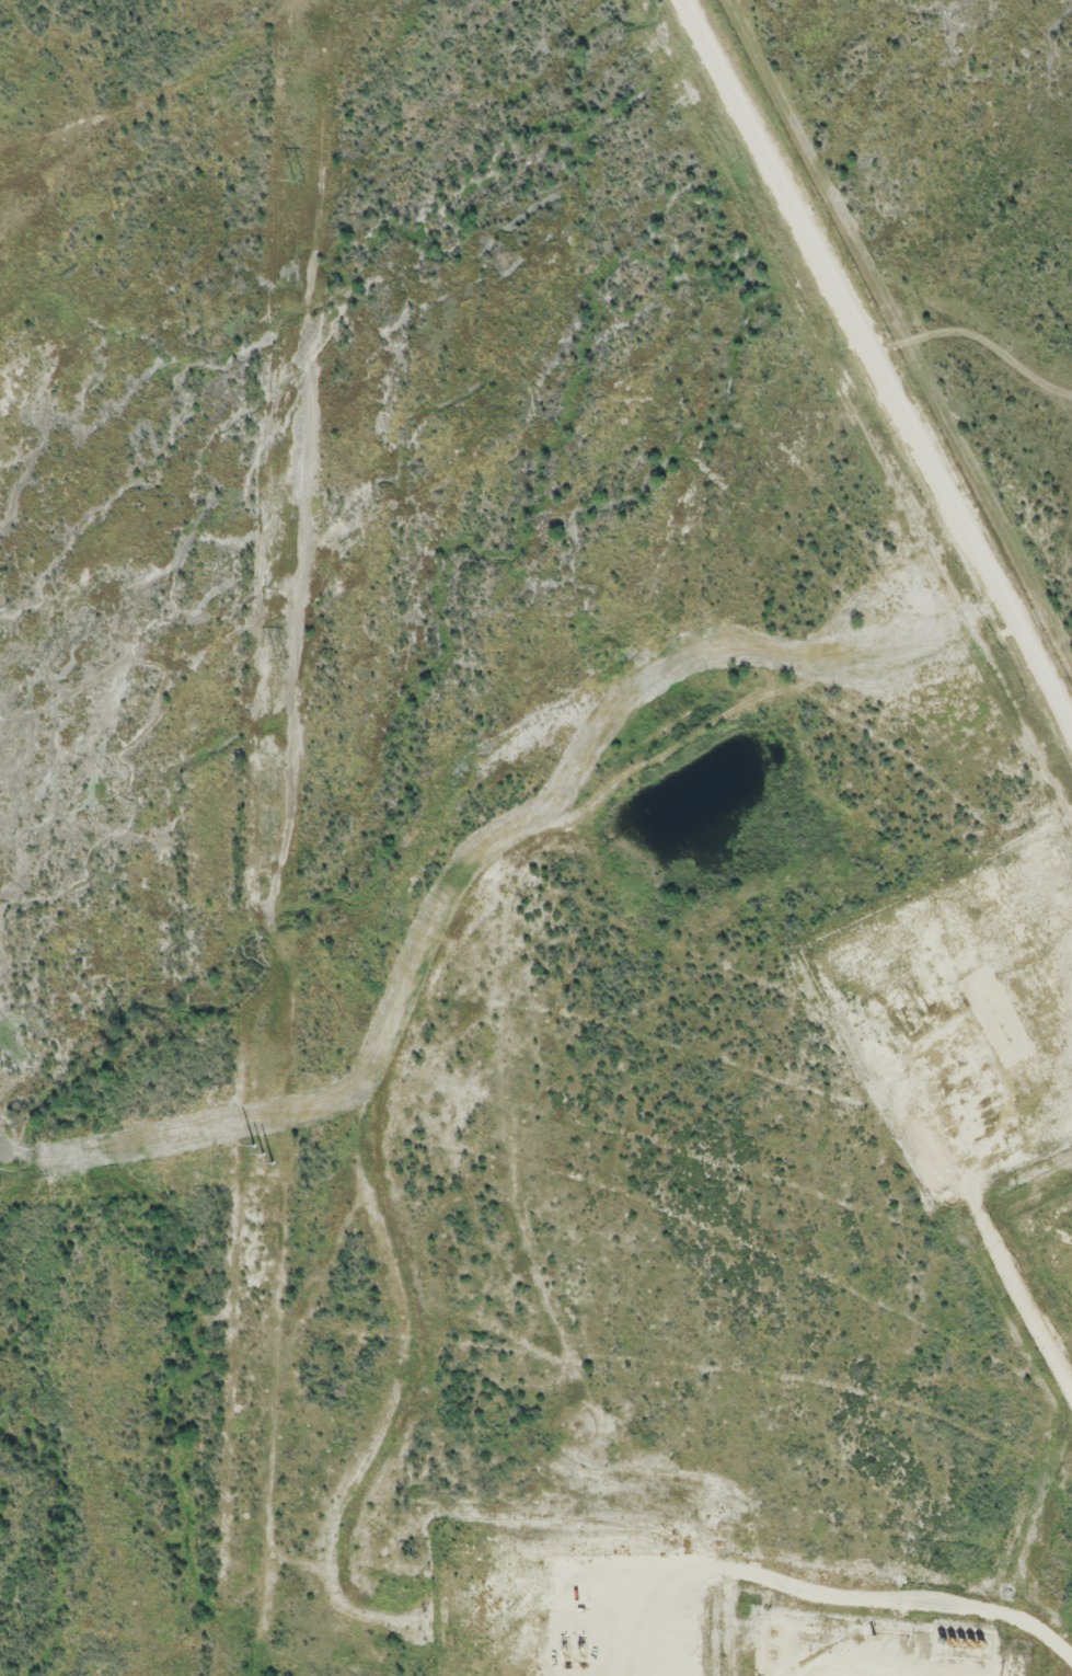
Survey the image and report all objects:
power tower: (300, 177)
road: (878, 367)
power tower: (281, 654)
power tower: (263, 1152)
road: (878, 1593)
road: (660, 1625)

